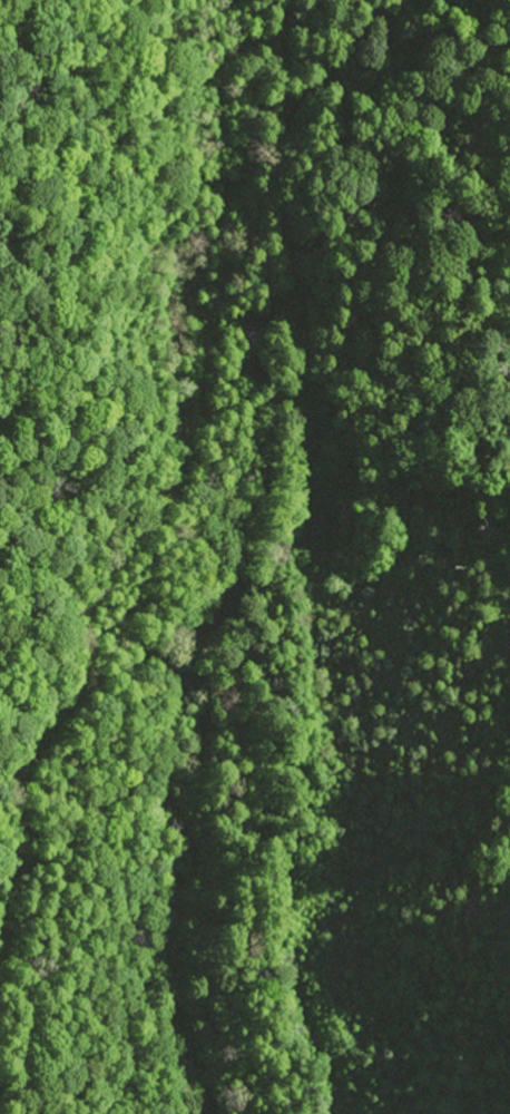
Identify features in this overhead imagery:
road: (77, 901)

